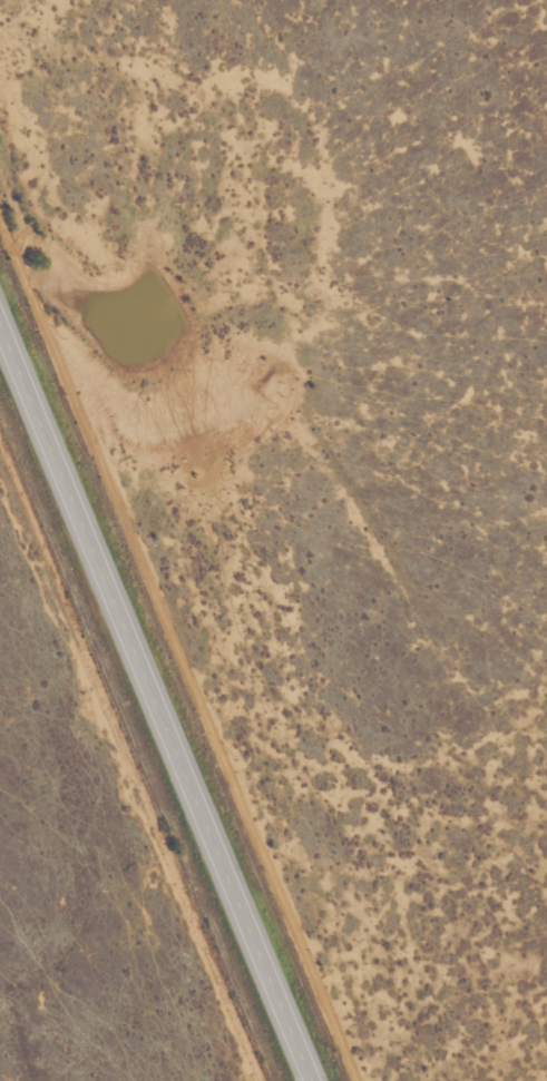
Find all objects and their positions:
road: (180, 646)
road: (156, 701)
road: (129, 769)

